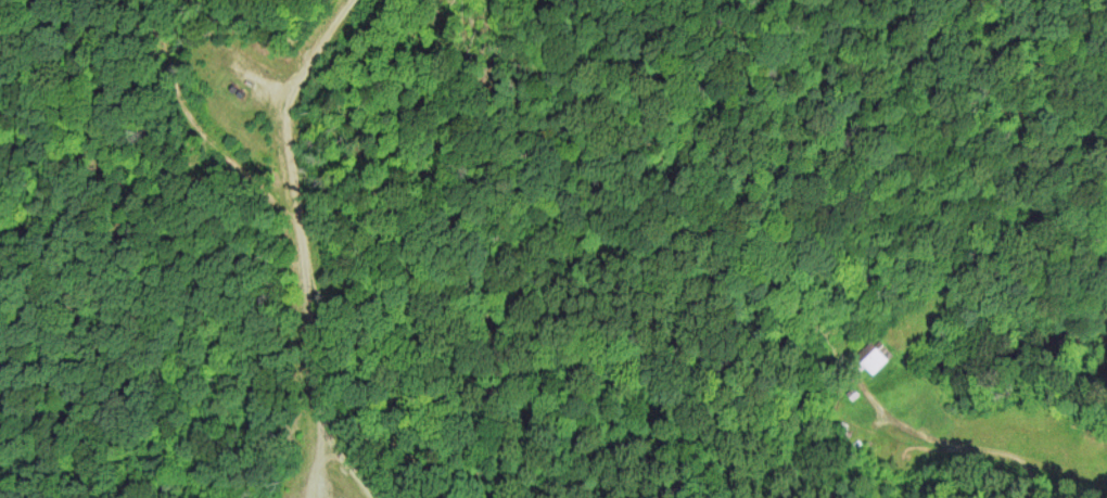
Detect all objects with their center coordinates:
road: (991, 456)

